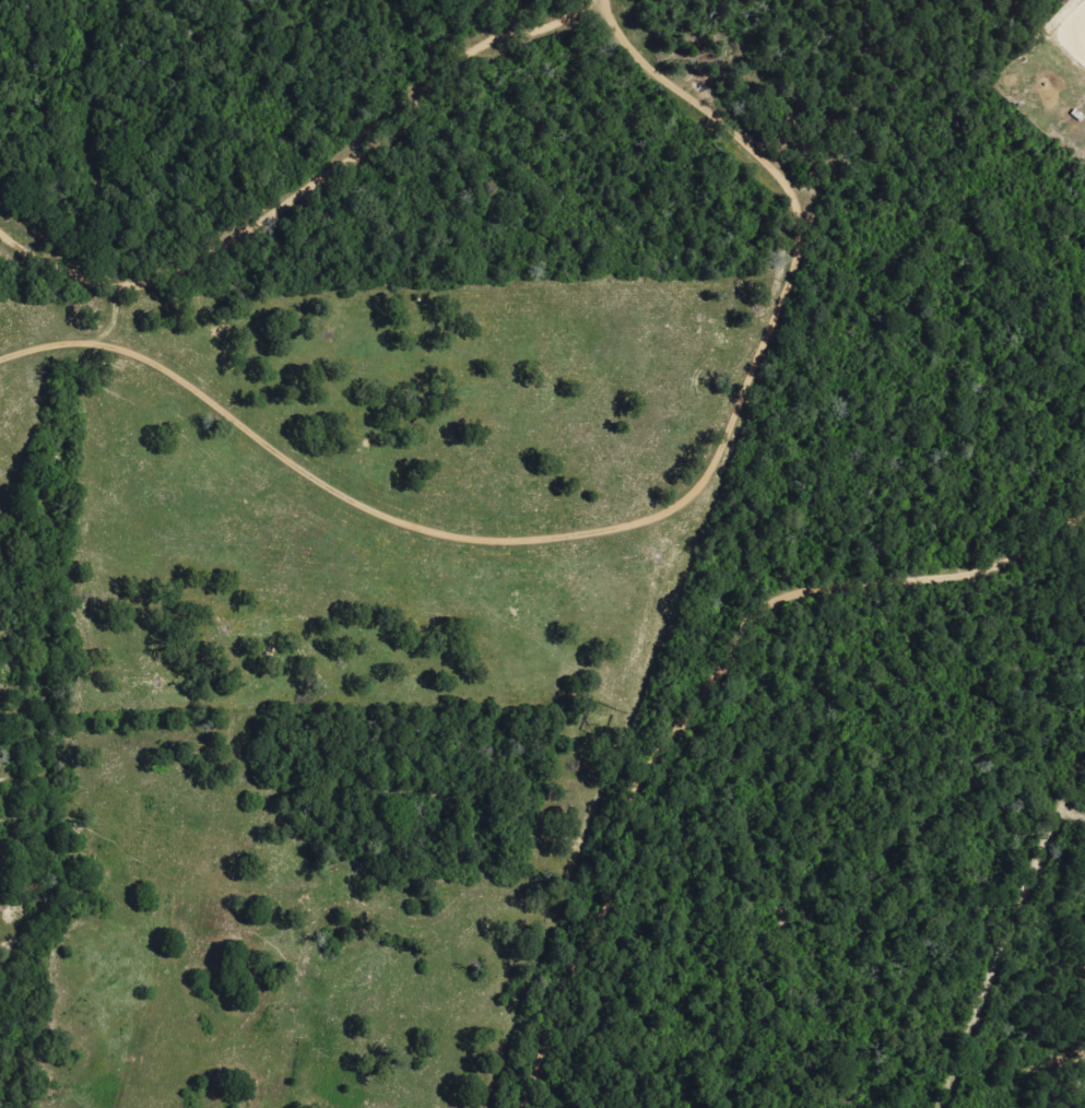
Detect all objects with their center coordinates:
road: (595, 2)
road: (306, 189)
road: (622, 528)
road: (699, 699)

